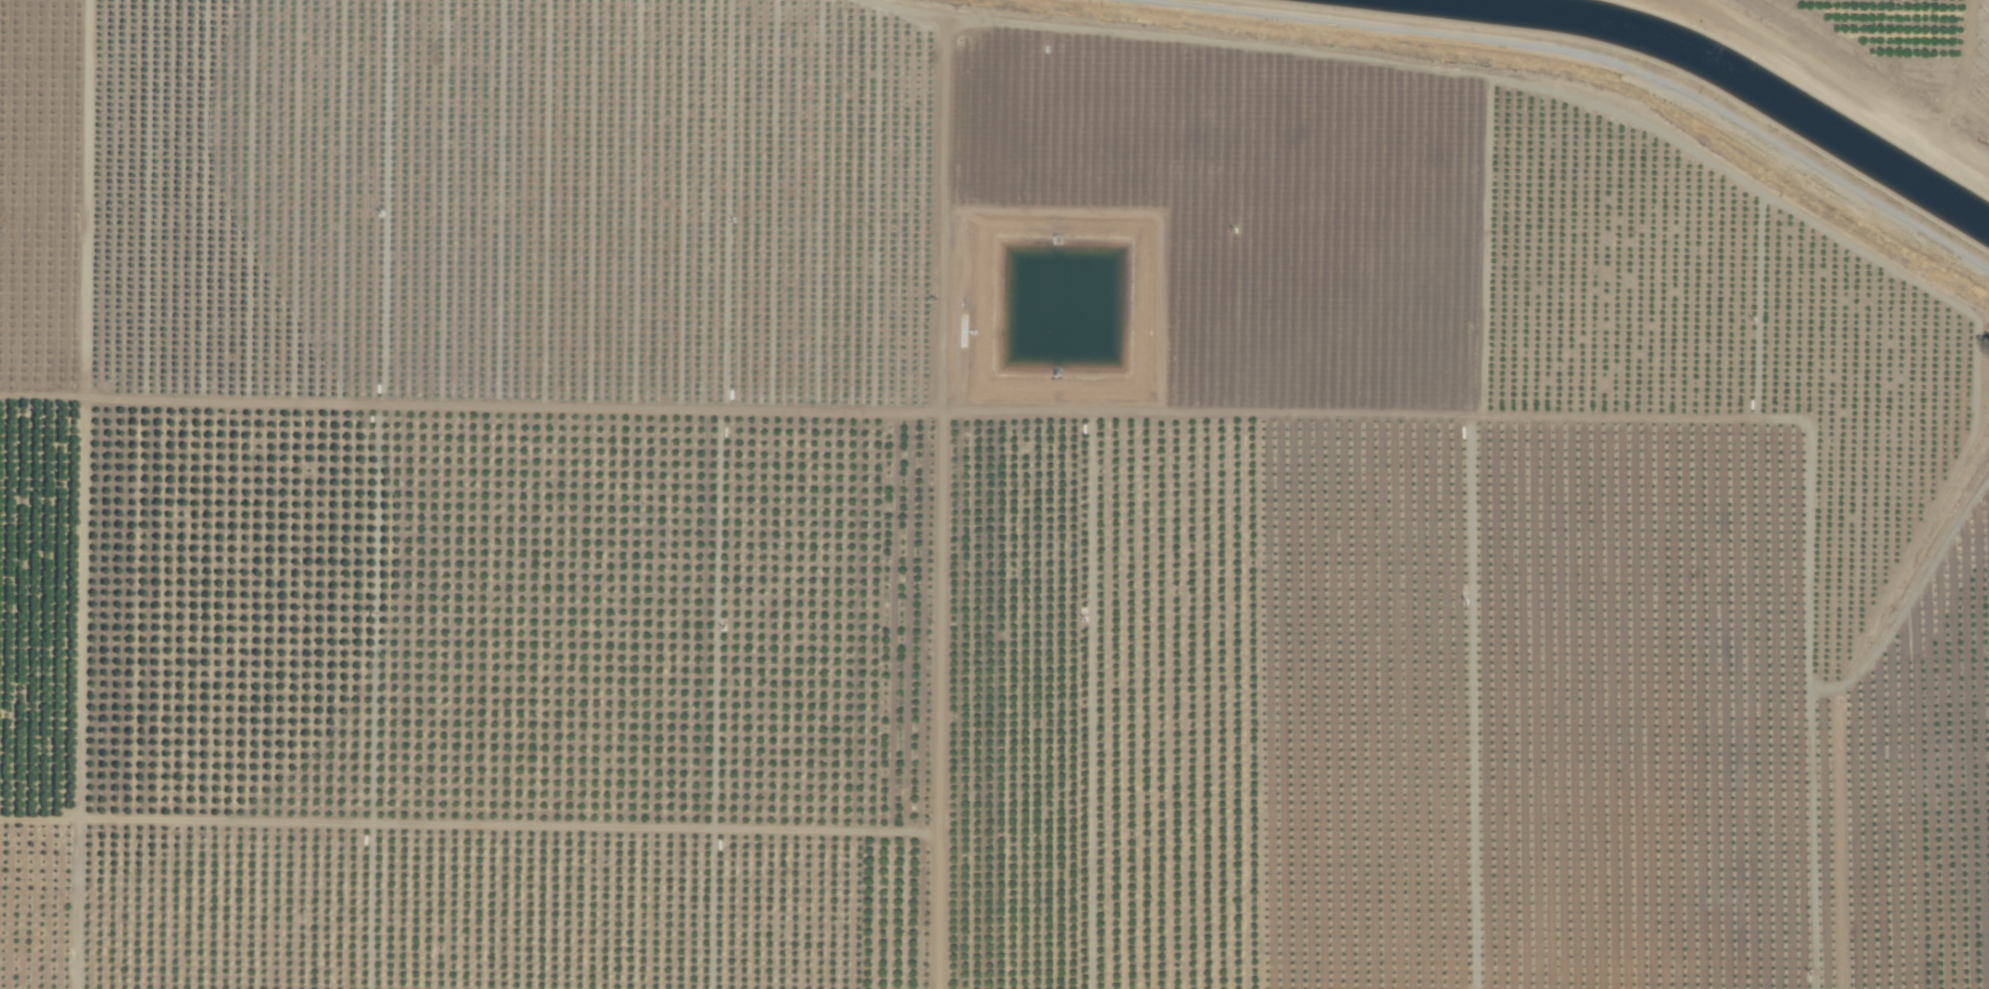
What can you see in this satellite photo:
crop: (966, 509)

